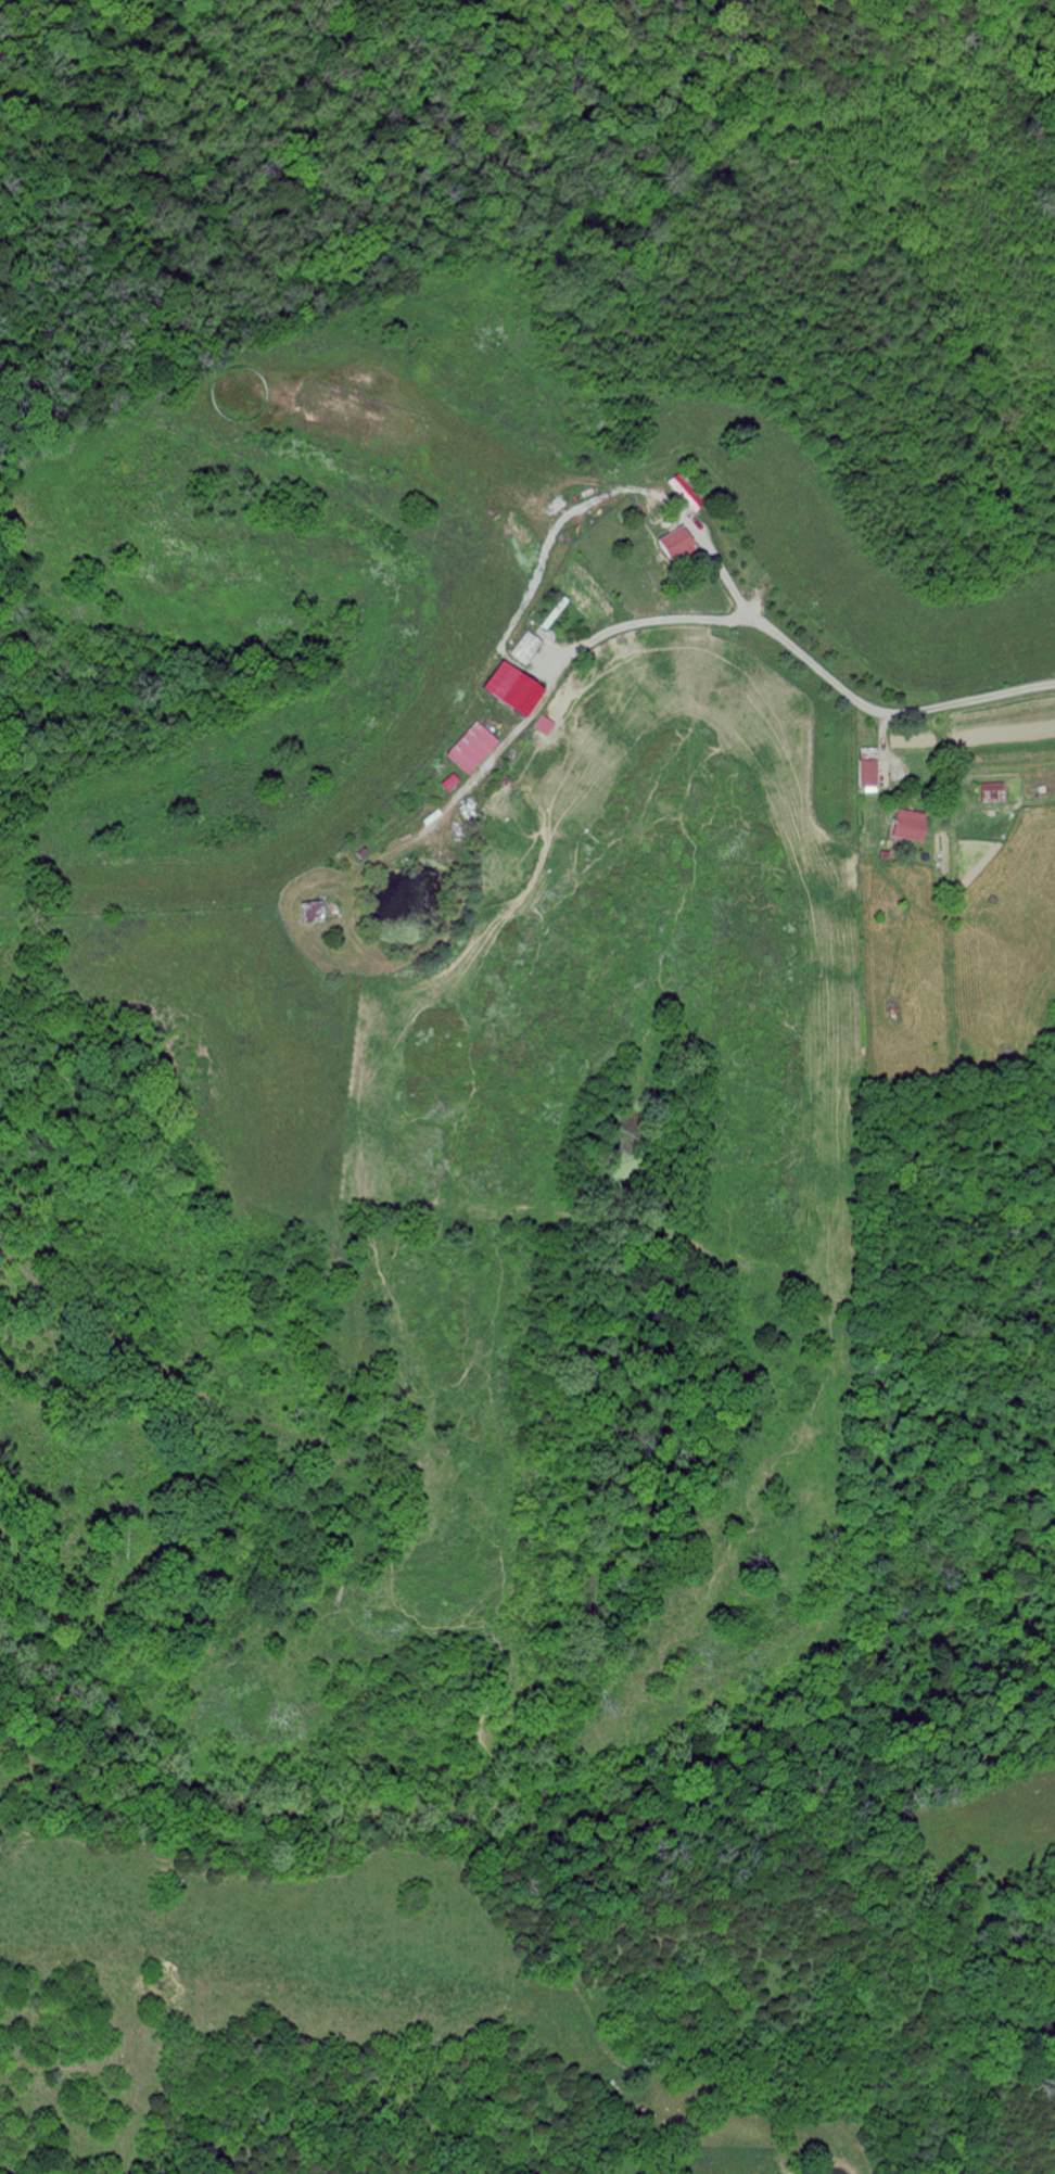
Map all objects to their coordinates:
building: (682, 491)
building: (673, 543)
road: (720, 567)
building: (524, 648)
road: (564, 672)
building: (508, 689)
road: (889, 714)
building: (468, 748)
building: (865, 773)
building: (990, 792)
building: (904, 825)
building: (304, 912)

